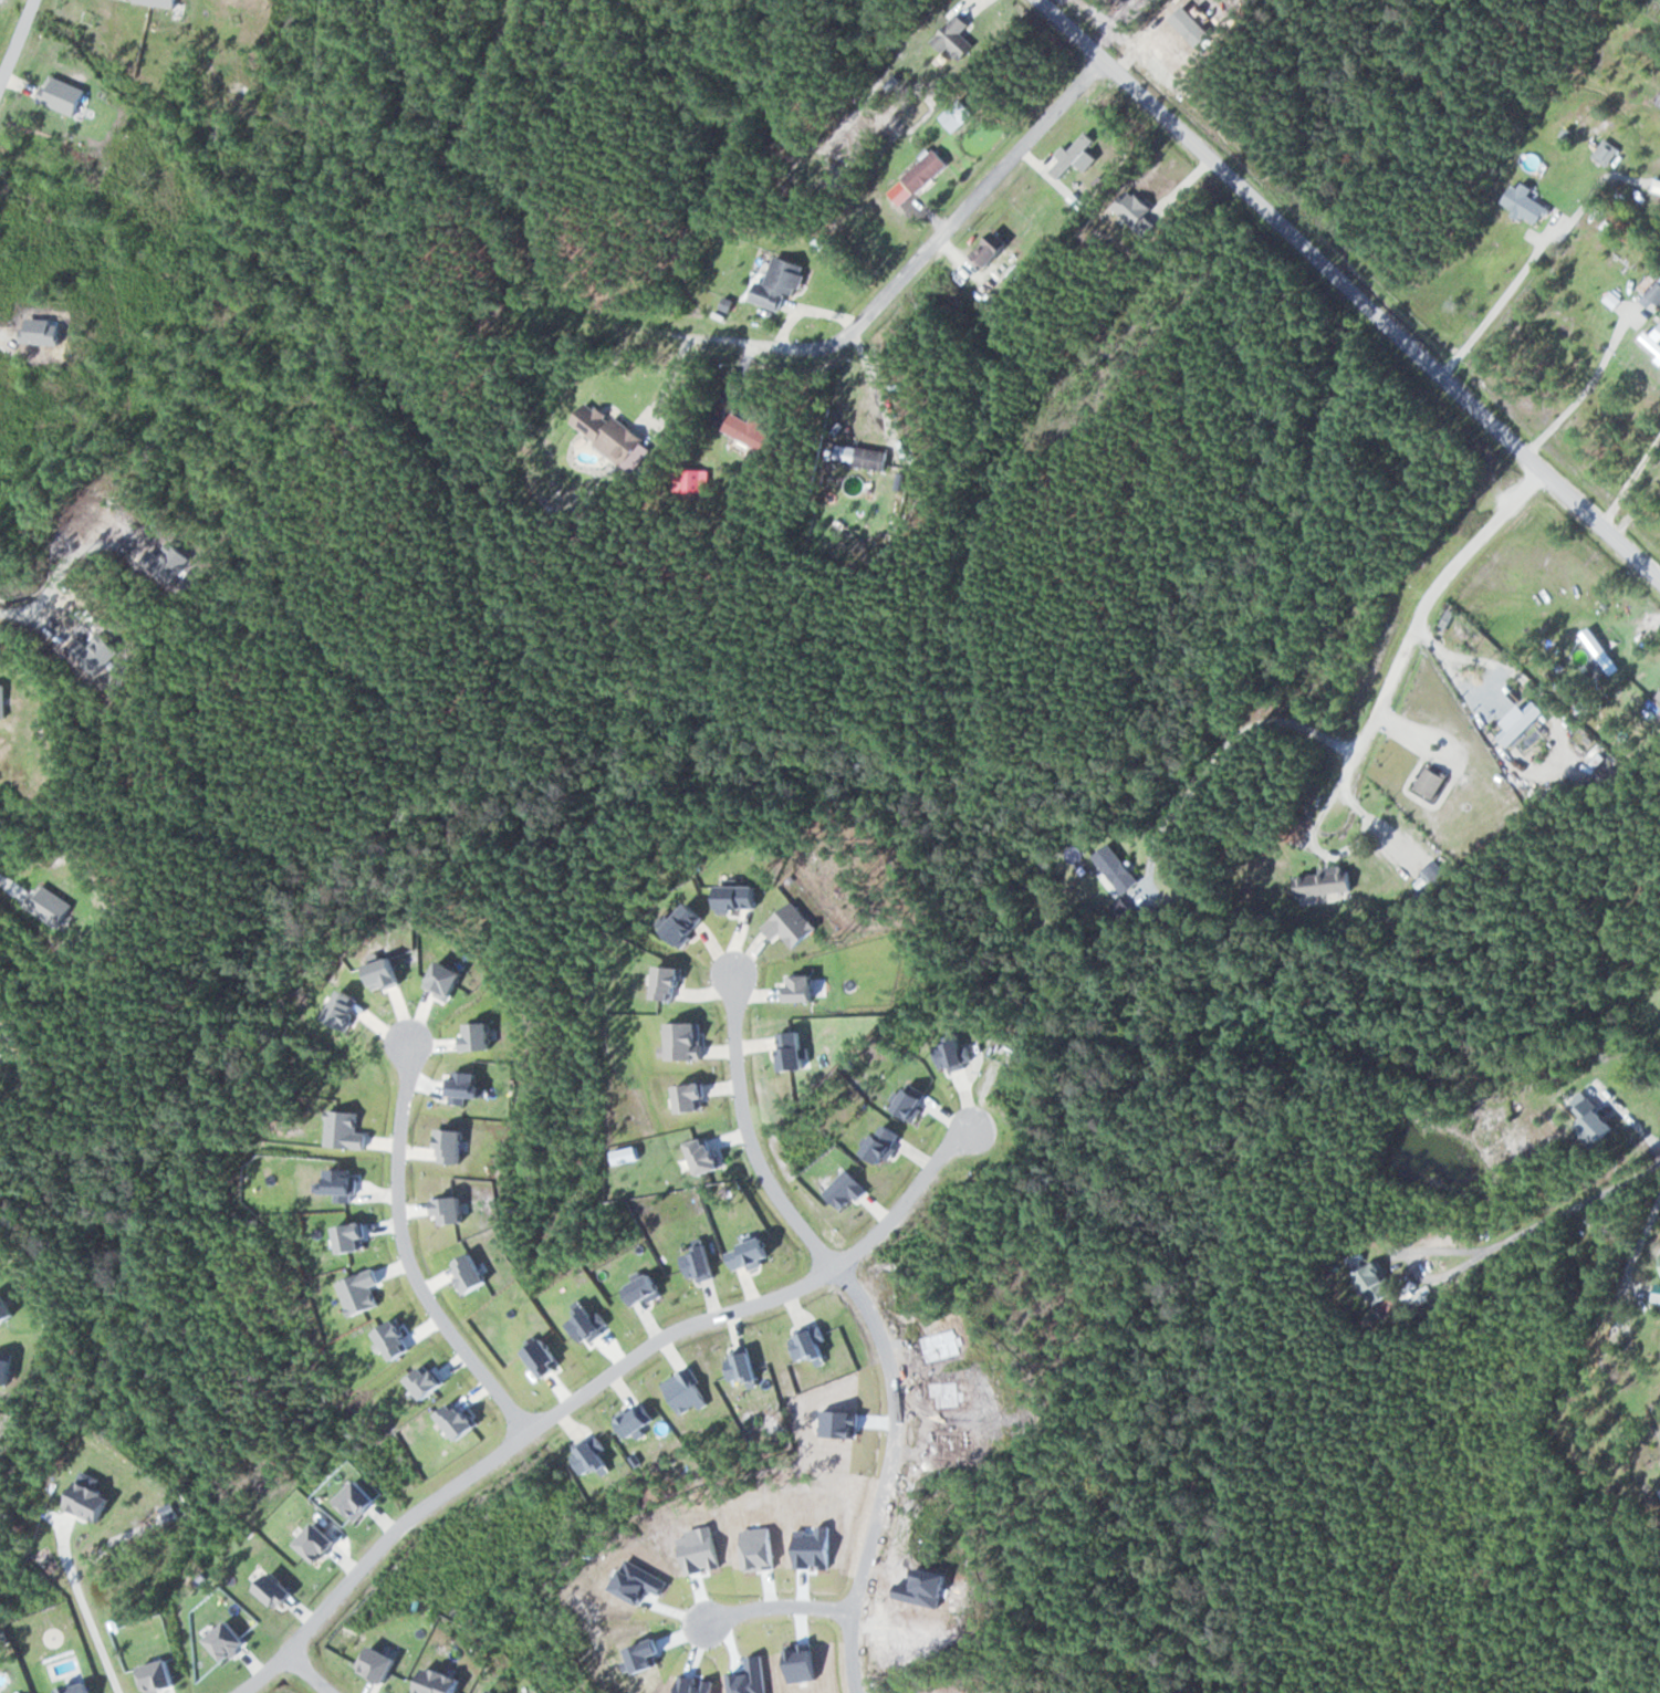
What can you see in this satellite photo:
road: (18, 43)
building: (953, 119)
building: (1609, 153)
building: (928, 169)
building: (1528, 203)
building: (994, 248)
building: (781, 282)
road: (1348, 288)
road: (856, 330)
building: (1653, 339)
building: (754, 433)
road: (1417, 631)
building: (1606, 650)
building: (1435, 783)
building: (1119, 869)
building: (1328, 882)
building: (3, 1045)
building: (1596, 1120)
road: (739, 1136)
road: (398, 1255)
building: (1385, 1289)
road: (584, 1384)
road: (303, 1669)
road: (1653, 1684)

